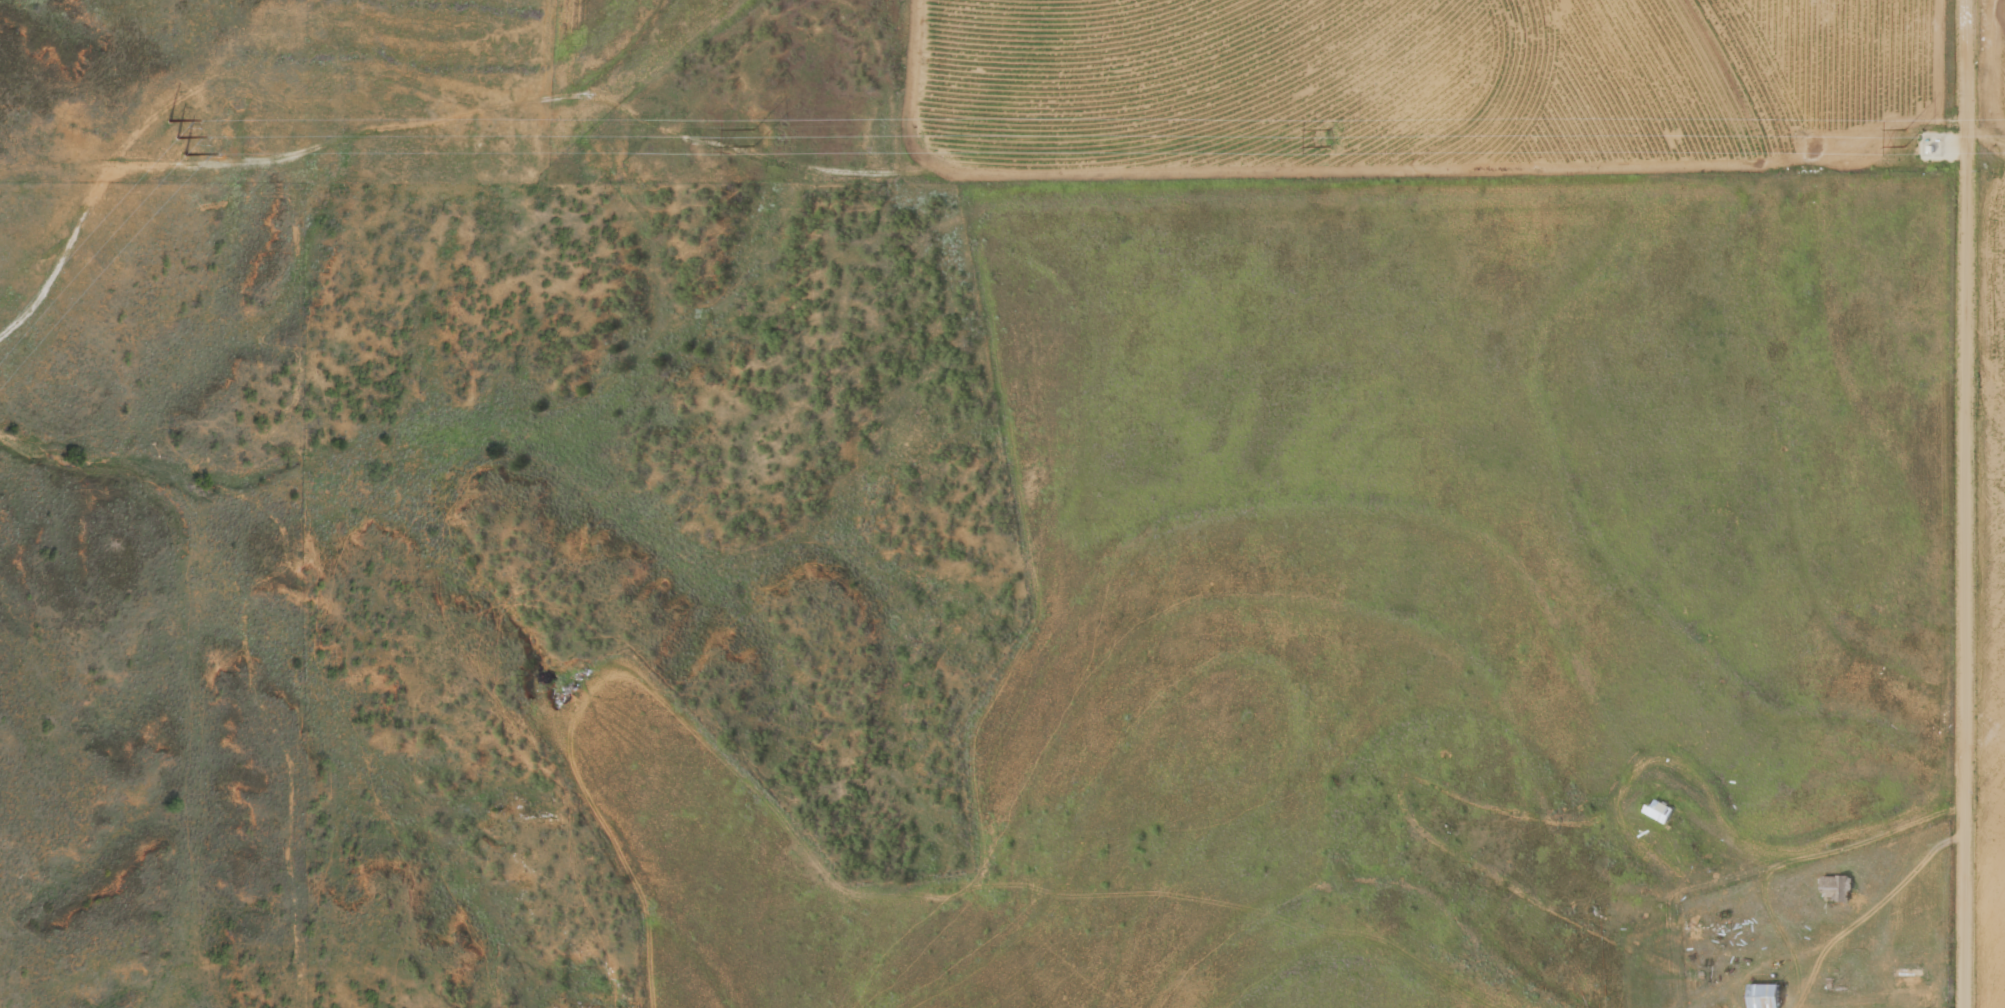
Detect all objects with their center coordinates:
road: (1981, 124)
power tower: (180, 134)
power tower: (746, 134)
power tower: (1323, 134)
power tower: (1901, 134)
road: (1966, 504)
building: (1656, 808)
building: (1834, 886)
building: (1906, 977)
building: (1761, 995)

